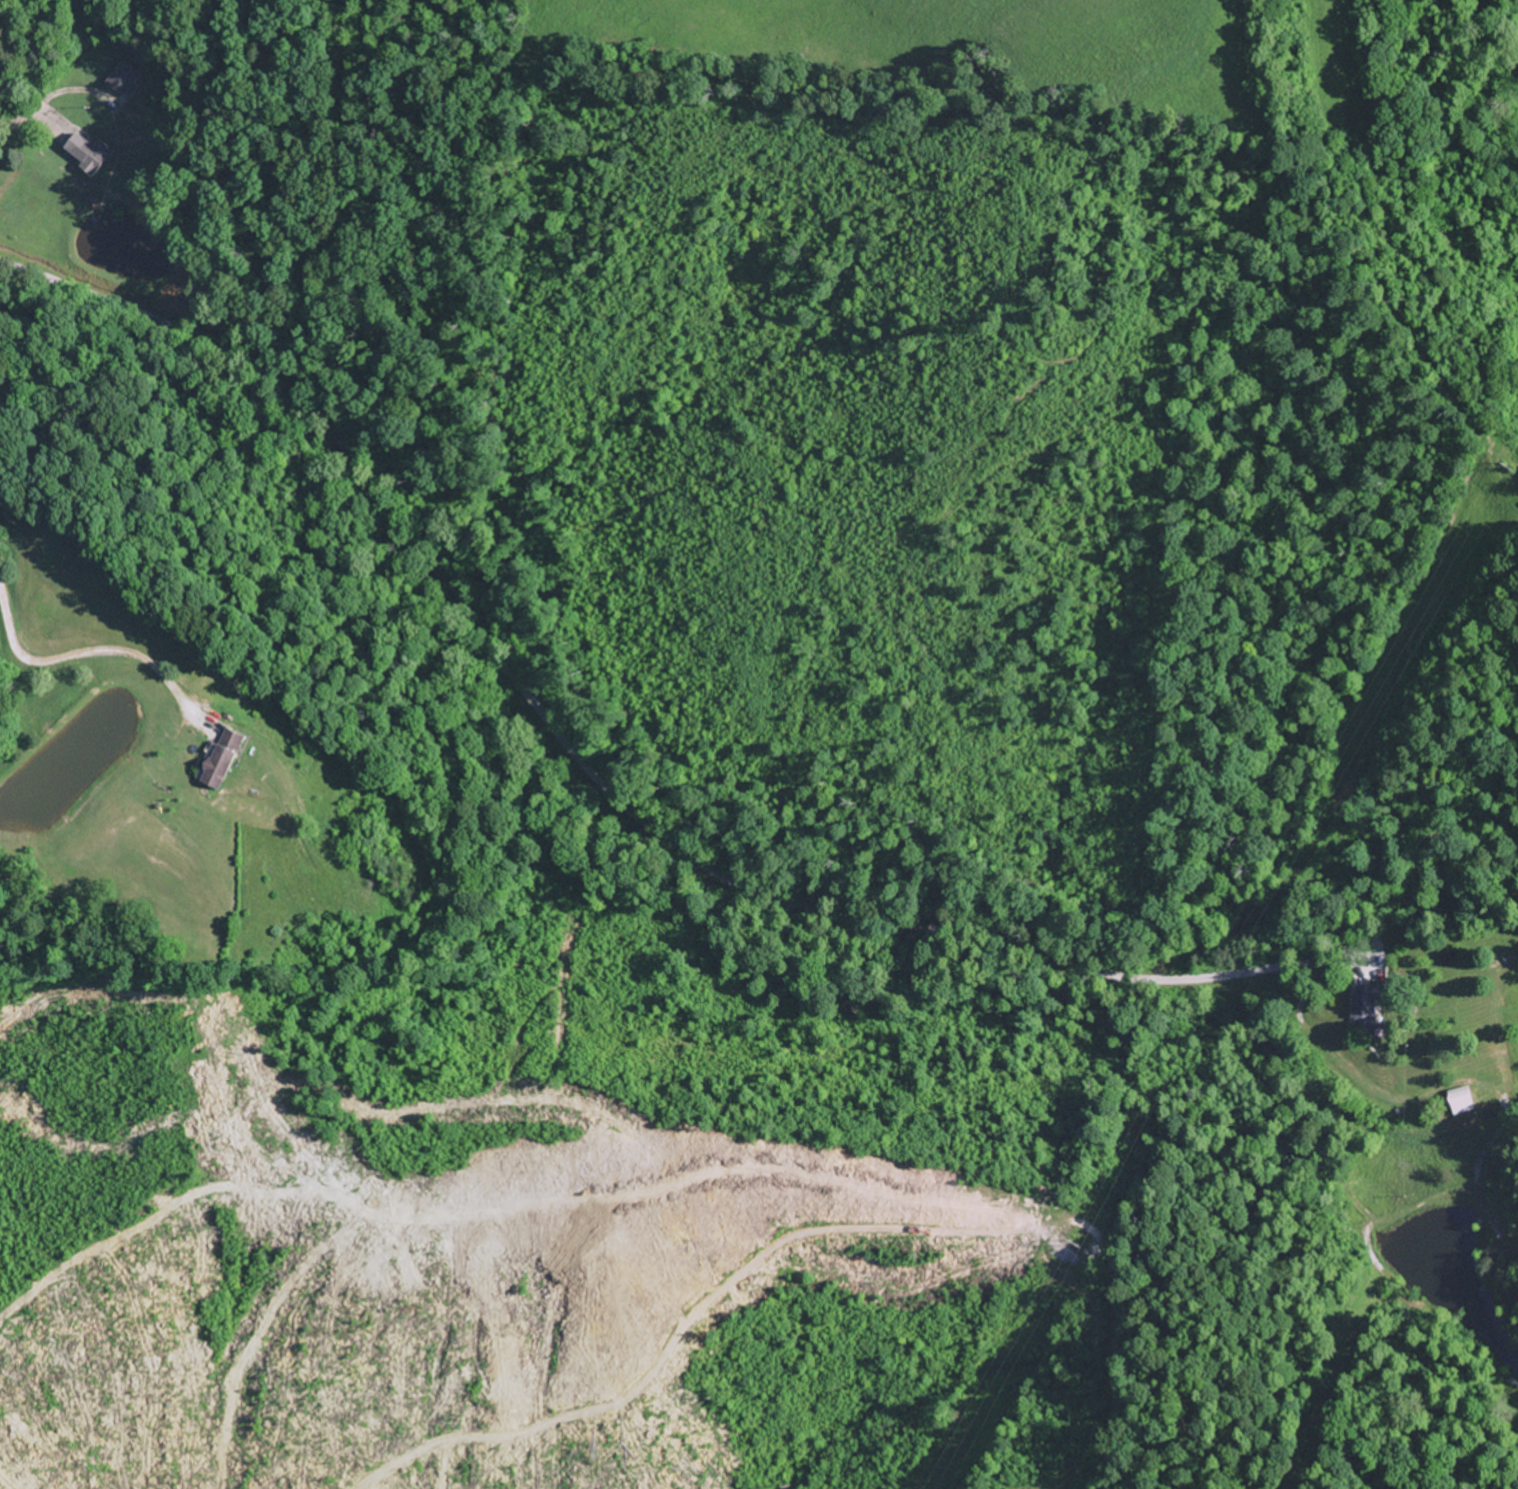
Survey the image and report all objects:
building: (124, 77)
road: (27, 113)
building: (91, 154)
power tower: (1508, 464)
building: (227, 758)
road: (600, 784)
building: (1369, 1002)
building: (1463, 1101)
power tower: (1079, 1241)

